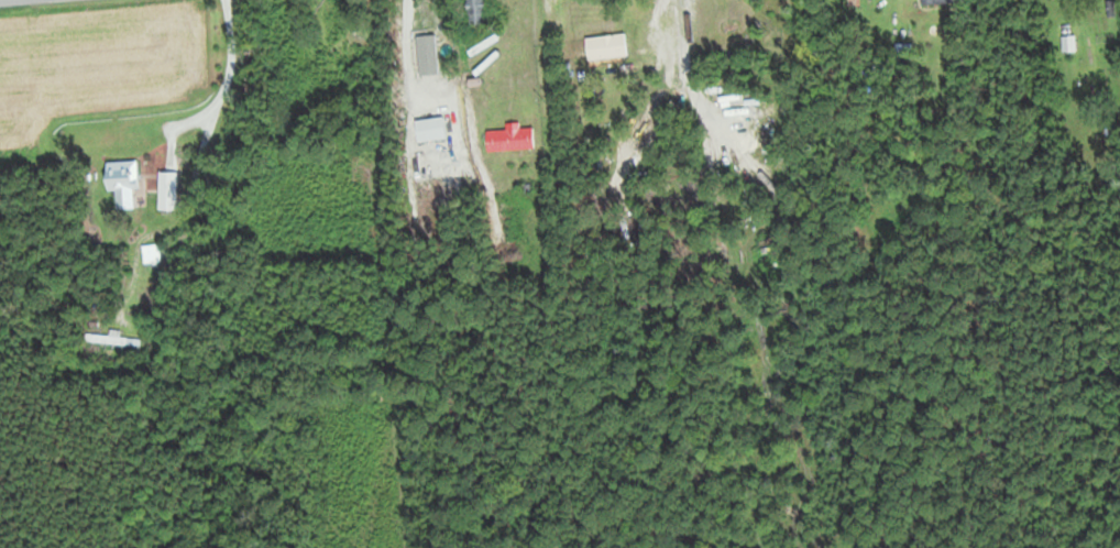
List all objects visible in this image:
building: (476, 9)
building: (606, 45)
building: (510, 136)
building: (122, 175)
building: (150, 254)
building: (114, 338)

